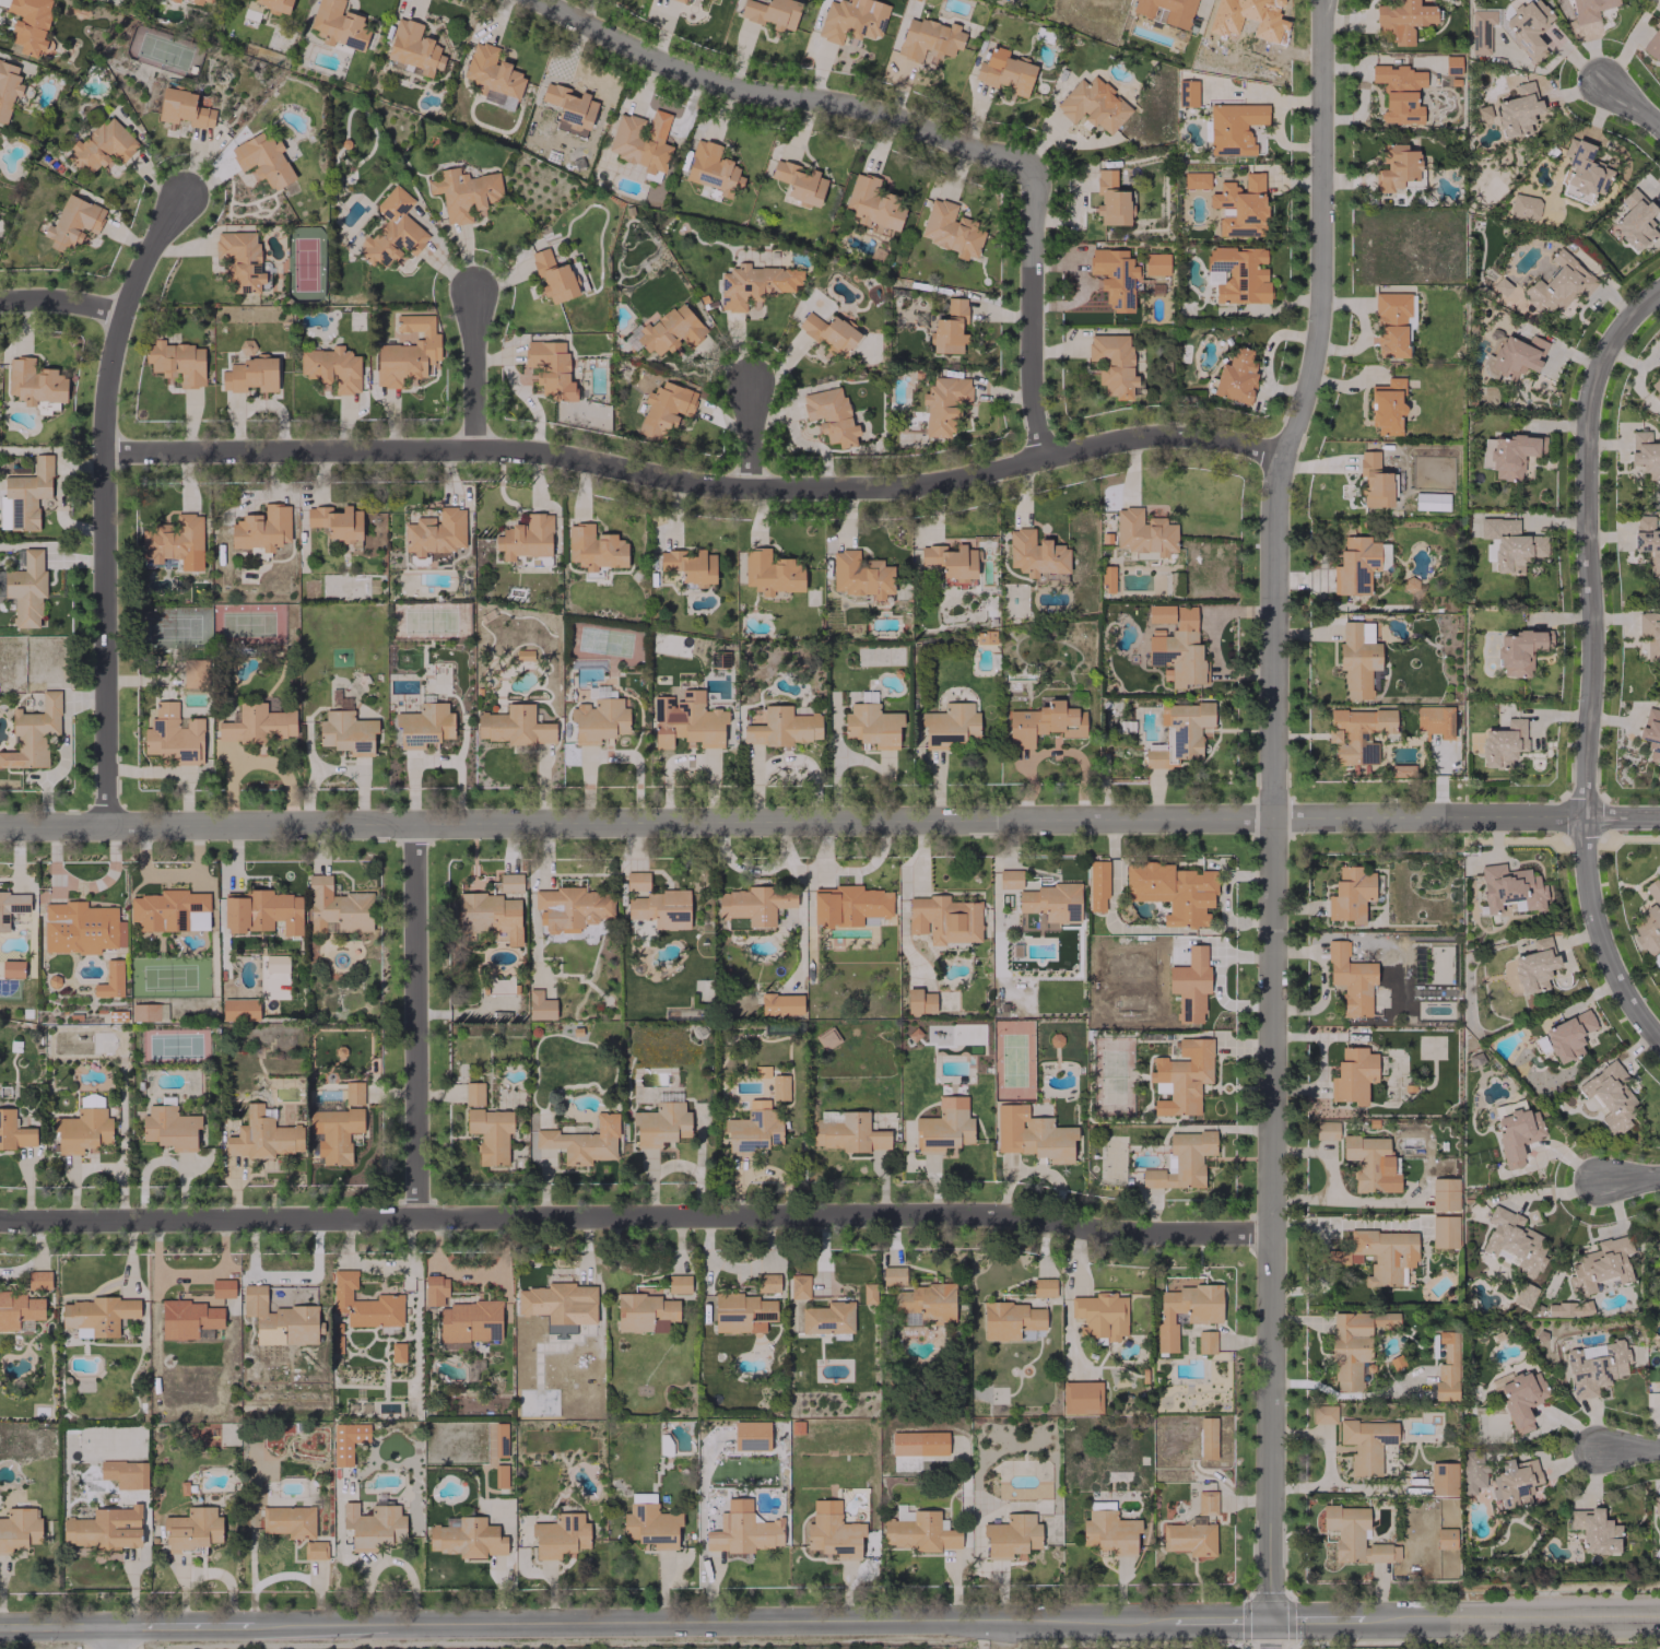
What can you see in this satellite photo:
building: (175, 0)
building: (682, 0)
building: (921, 0)
building: (199, 1)
building: (272, 5)
building: (1589, 9)
building: (1165, 11)
building: (772, 12)
building: (852, 19)
building: (1401, 20)
building: (30, 24)
building: (338, 25)
building: (1528, 27)
building: (1481, 30)
building: (929, 40)
building: (1653, 40)
building: (413, 47)
building: (1451, 64)
building: (1004, 71)
building: (493, 75)
building: (8, 87)
building: (1399, 92)
building: (1186, 93)
road: (778, 95)
road: (1630, 99)
building: (570, 105)
building: (1093, 105)
building: (183, 109)
building: (1512, 110)
building: (1233, 128)
building: (641, 140)
building: (103, 145)
building: (262, 160)
building: (1396, 167)
building: (713, 168)
building: (1581, 172)
building: (1196, 180)
building: (799, 181)
building: (463, 192)
building: (1110, 199)
building: (873, 203)
building: (1240, 207)
building: (1524, 207)
building: (1634, 220)
building: (72, 222)
building: (392, 229)
building: (950, 229)
building: (239, 261)
building: (1156, 263)
building: (1237, 274)
building: (1114, 276)
building: (754, 284)
building: (1559, 284)
building: (1502, 286)
road: (63, 304)
road: (1035, 316)
building: (1392, 322)
building: (950, 328)
building: (667, 331)
building: (828, 333)
building: (1658, 343)
building: (408, 352)
building: (1511, 356)
building: (177, 362)
road: (480, 363)
building: (1112, 364)
building: (332, 368)
building: (550, 368)
building: (250, 375)
building: (1235, 376)
building: (34, 381)
building: (1656, 385)
building: (943, 403)
building: (1386, 407)
building: (664, 409)
road: (1299, 409)
building: (831, 415)
road: (753, 433)
building: (1645, 454)
road: (695, 481)
building: (1376, 481)
building: (25, 495)
road: (107, 497)
building: (1431, 500)
building: (337, 522)
building: (262, 528)
building: (1143, 532)
building: (435, 533)
building: (526, 538)
building: (175, 542)
building: (1647, 542)
building: (1510, 543)
building: (593, 547)
building: (1035, 553)
building: (951, 564)
building: (1358, 565)
building: (690, 566)
building: (772, 573)
building: (860, 575)
building: (1107, 579)
building: (26, 588)
building: (1650, 634)
building: (985, 637)
road: (1208, 641)
building: (1176, 645)
building: (1518, 651)
building: (1357, 658)
road: (1589, 662)
building: (195, 672)
building: (600, 692)
building: (599, 720)
building: (686, 721)
building: (1435, 721)
building: (1044, 723)
building: (258, 725)
building: (424, 726)
building: (514, 726)
building: (872, 726)
building: (946, 726)
building: (781, 728)
building: (345, 730)
building: (33, 733)
building: (1179, 733)
building: (1651, 733)
building: (1356, 734)
building: (173, 735)
building: (1503, 743)
road: (1053, 751)
road: (170, 773)
road: (1468, 816)
road: (637, 818)
building: (1010, 879)
building: (509, 883)
building: (1097, 885)
building: (1510, 888)
building: (1172, 891)
building: (1350, 894)
building: (656, 904)
building: (755, 904)
building: (848, 905)
building: (12, 907)
building: (337, 907)
building: (570, 908)
building: (170, 910)
building: (261, 911)
building: (487, 916)
building: (944, 919)
building: (1649, 919)
building: (81, 928)
building: (1534, 966)
building: (12, 968)
building: (1350, 979)
building: (110, 980)
building: (1190, 985)
building: (919, 1001)
building: (780, 1003)
building: (540, 1005)
building: (239, 1010)
building: (148, 1012)
road: (419, 1016)
building: (1567, 1036)
building: (827, 1038)
building: (1475, 1059)
road: (1320, 1063)
building: (1353, 1075)
building: (1181, 1076)
building: (1096, 1085)
building: (353, 1093)
building: (473, 1093)
building: (1610, 1096)
building: (1097, 1105)
building: (757, 1121)
building: (660, 1124)
building: (83, 1127)
building: (169, 1127)
building: (942, 1130)
building: (1326, 1130)
building: (1515, 1130)
building: (14, 1131)
building: (847, 1132)
building: (334, 1133)
building: (490, 1133)
building: (1032, 1134)
building: (262, 1135)
building: (584, 1141)
building: (1181, 1161)
building: (1370, 1163)
road: (1629, 1175)
building: (1444, 1194)
road: (637, 1212)
road: (1274, 1220)
building: (1444, 1232)
building: (1514, 1240)
building: (1659, 1249)
building: (1379, 1256)
building: (1600, 1265)
building: (893, 1275)
building: (38, 1280)
building: (768, 1282)
building: (679, 1283)
building: (799, 1286)
building: (1044, 1287)
building: (868, 1293)
building: (1523, 1295)
building: (554, 1300)
building: (926, 1301)
building: (364, 1303)
building: (1186, 1307)
building: (17, 1309)
building: (1568, 1309)
building: (645, 1312)
building: (741, 1312)
building: (462, 1315)
building: (1100, 1315)
building: (97, 1316)
building: (827, 1318)
building: (278, 1319)
building: (1010, 1320)
building: (1205, 1342)
building: (1354, 1344)
building: (397, 1352)
building: (1447, 1365)
building: (1594, 1367)
building: (1658, 1392)
building: (1081, 1398)
building: (1520, 1398)
building: (1323, 1414)
building: (751, 1435)
building: (1206, 1438)
building: (497, 1439)
building: (346, 1441)
building: (918, 1444)
building: (1366, 1444)
road: (1627, 1448)
road: (1327, 1461)
building: (1472, 1472)
building: (125, 1473)
building: (499, 1475)
building: (1443, 1479)
building: (1514, 1482)
building: (1206, 1503)
building: (1656, 1505)
building: (289, 1521)
building: (650, 1522)
building: (373, 1526)
building: (19, 1529)
building: (104, 1529)
building: (192, 1529)
building: (742, 1530)
building: (1108, 1530)
building: (833, 1531)
building: (918, 1531)
building: (1594, 1531)
building: (560, 1535)
building: (1011, 1535)
building: (1355, 1535)
building: (467, 1538)
building: (1189, 1538)
building: (1446, 1538)
building: (315, 1550)
road: (1516, 1619)
road: (706, 1621)
road: (1213, 1622)
road: (1319, 1622)
road: (180, 1625)
road: (54, 1626)
road: (1008, 1634)
road: (1268, 1636)
road: (107, 1637)

